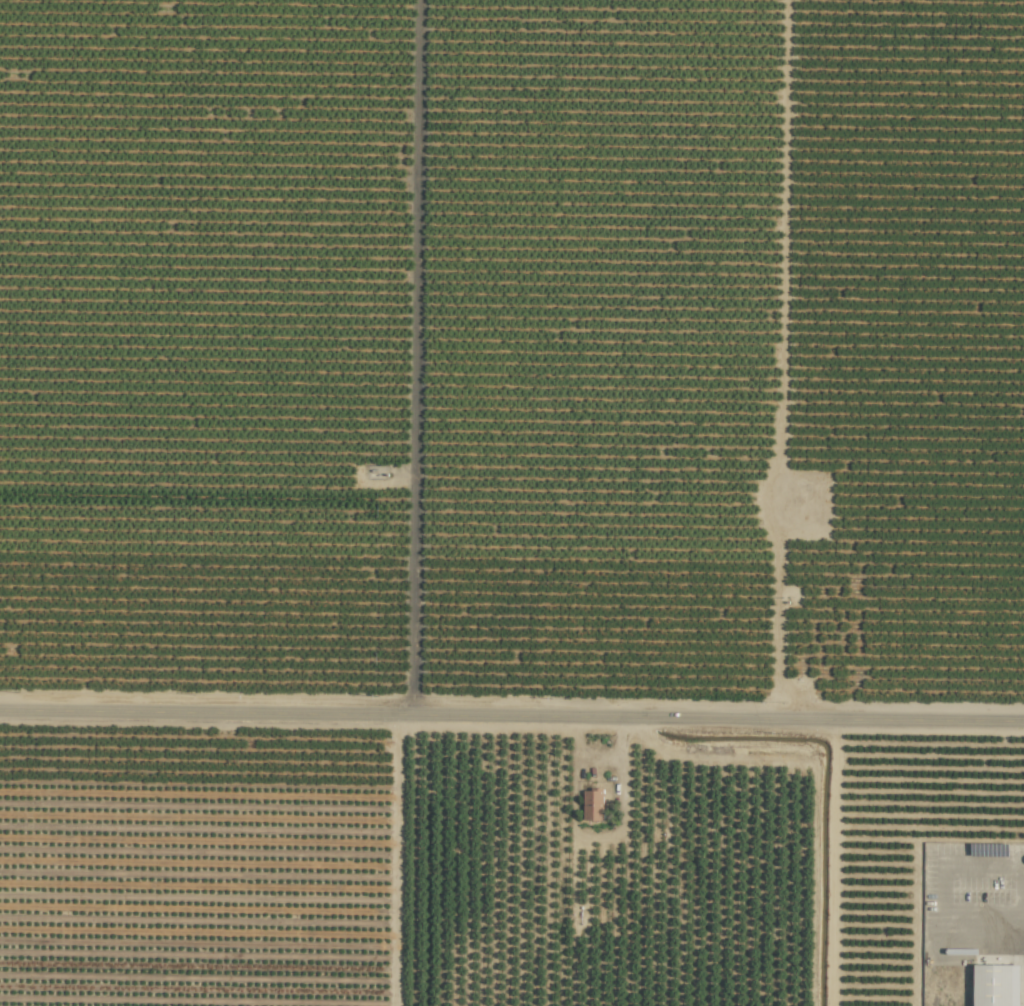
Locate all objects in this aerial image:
road: (778, 627)
road: (512, 715)
building: (592, 804)
building: (995, 985)

